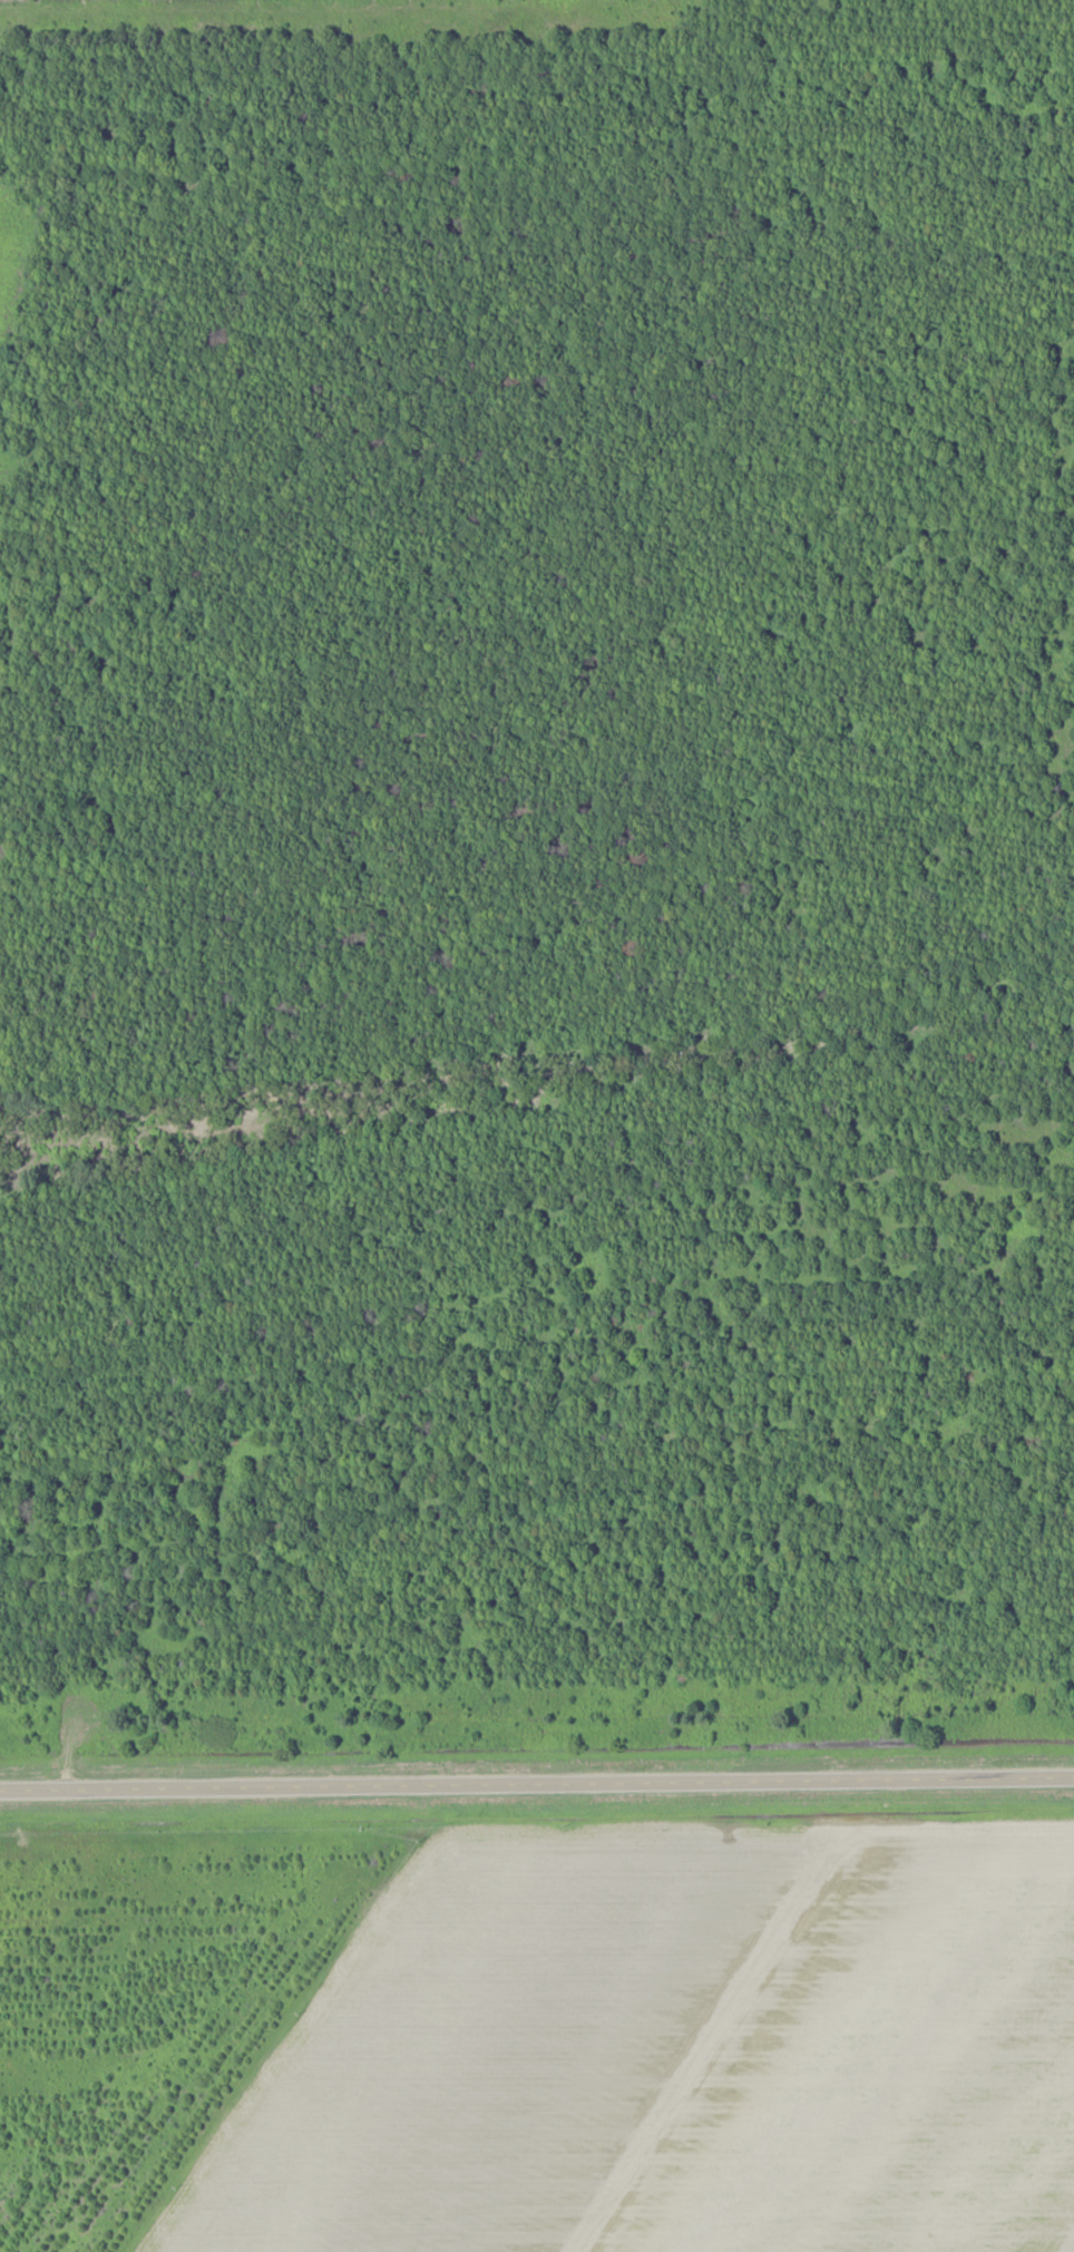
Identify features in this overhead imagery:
road: (537, 1782)

